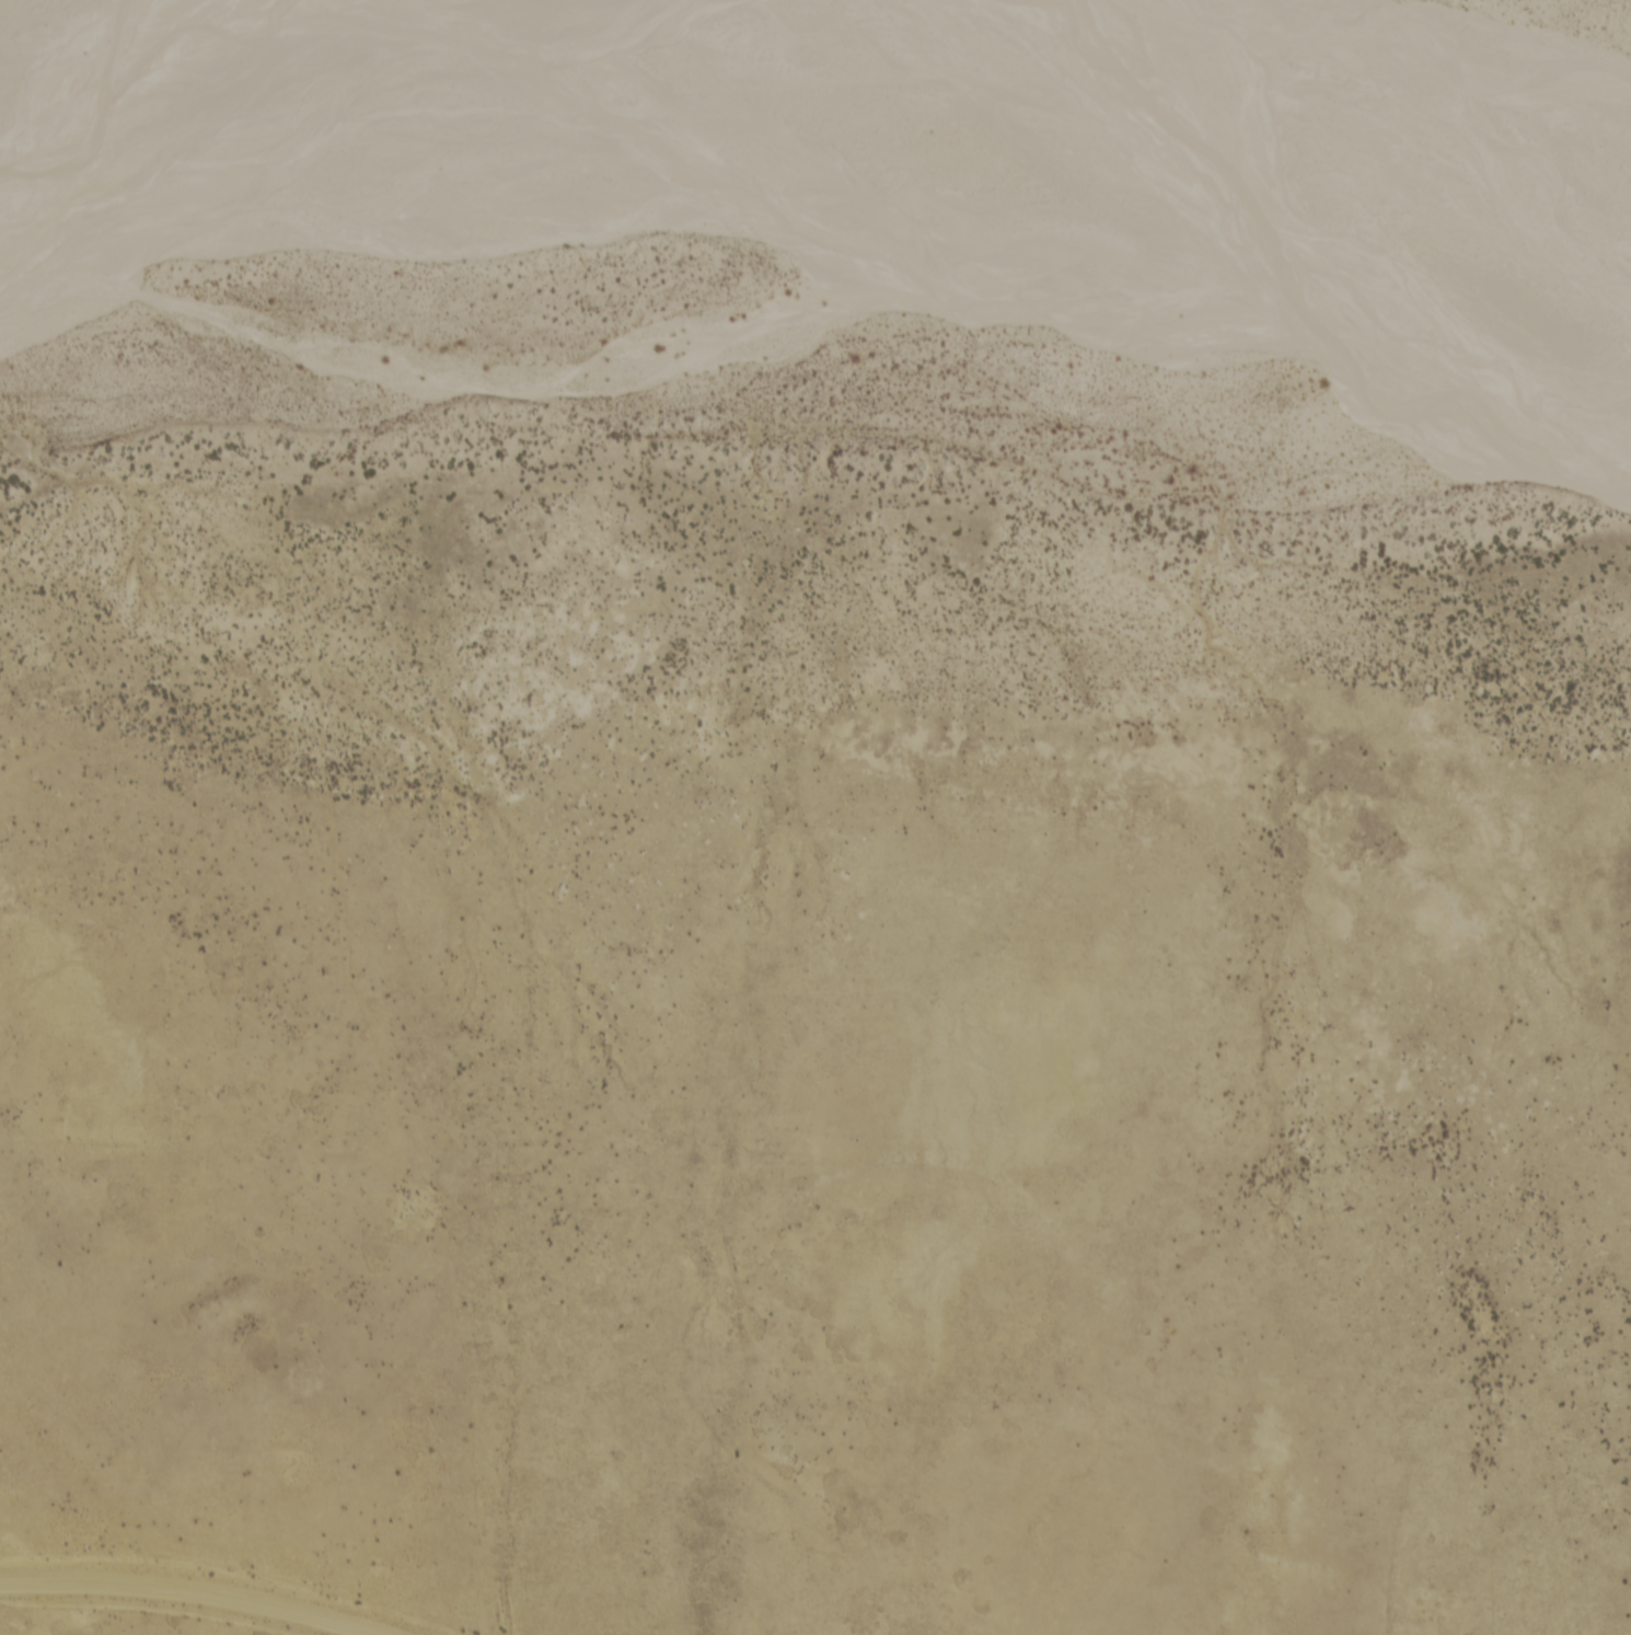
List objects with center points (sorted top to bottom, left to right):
river: (815, 342)
road: (195, 1591)

